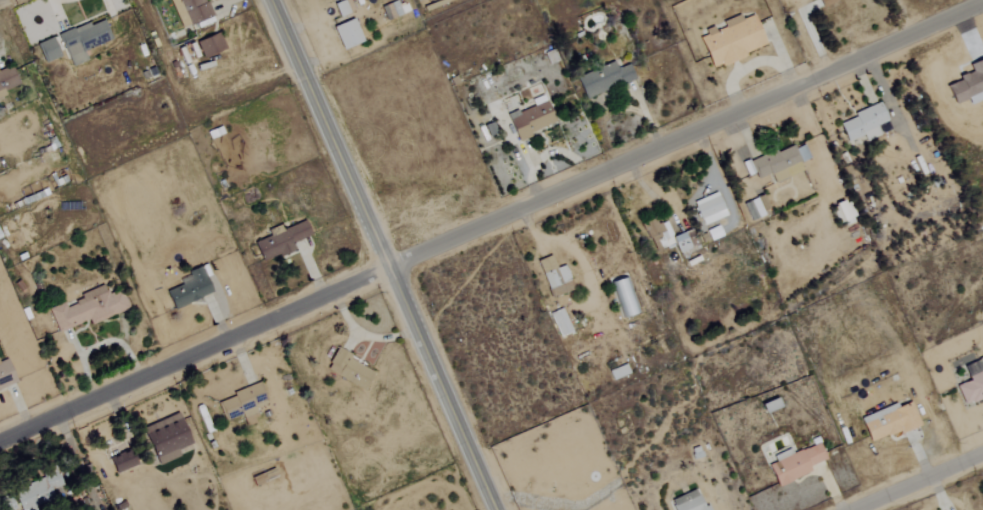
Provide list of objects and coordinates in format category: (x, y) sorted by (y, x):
building: (826, 2)
building: (342, 8)
building: (390, 10)
building: (189, 11)
road: (903, 19)
building: (346, 34)
road: (816, 36)
building: (731, 40)
building: (82, 41)
building: (209, 46)
building: (47, 50)
building: (6, 80)
building: (603, 80)
building: (530, 121)
building: (863, 124)
building: (780, 163)
road: (653, 194)
building: (754, 208)
building: (708, 209)
building: (841, 212)
road: (491, 223)
building: (713, 233)
building: (280, 241)
building: (684, 243)
road: (382, 254)
building: (554, 278)
building: (189, 290)
building: (624, 298)
building: (86, 309)
building: (560, 323)
building: (349, 370)
building: (618, 372)
building: (5, 374)
building: (972, 382)
building: (241, 404)
building: (166, 439)
building: (120, 461)
building: (794, 464)
building: (263, 477)
road: (919, 481)
building: (36, 492)
building: (687, 502)

